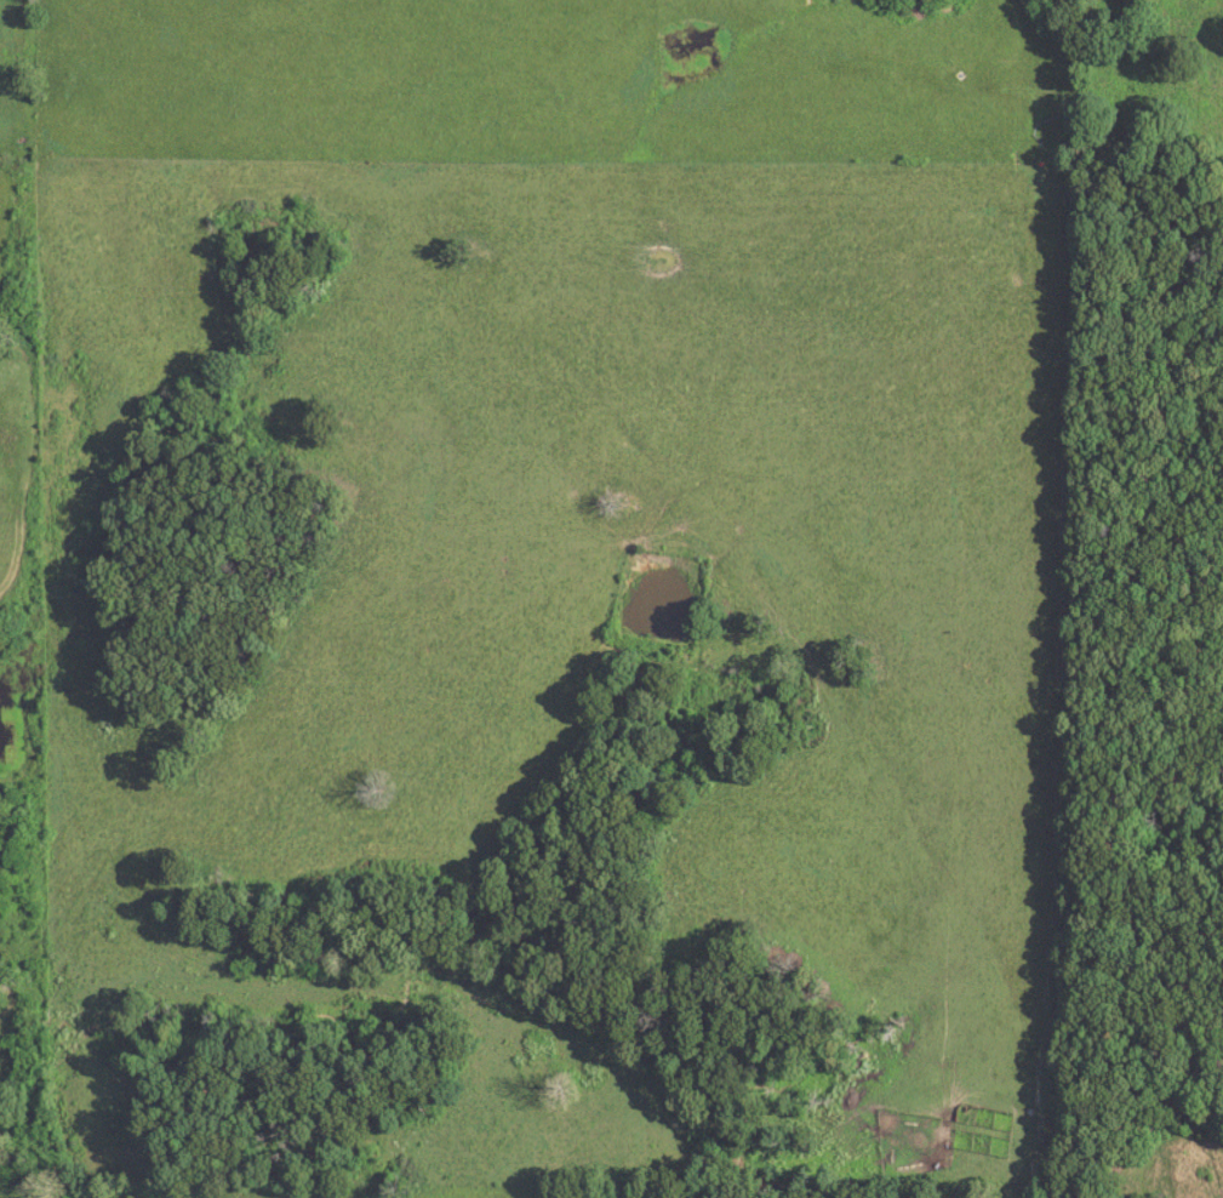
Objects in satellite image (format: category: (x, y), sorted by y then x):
road: (1025, 1153)

